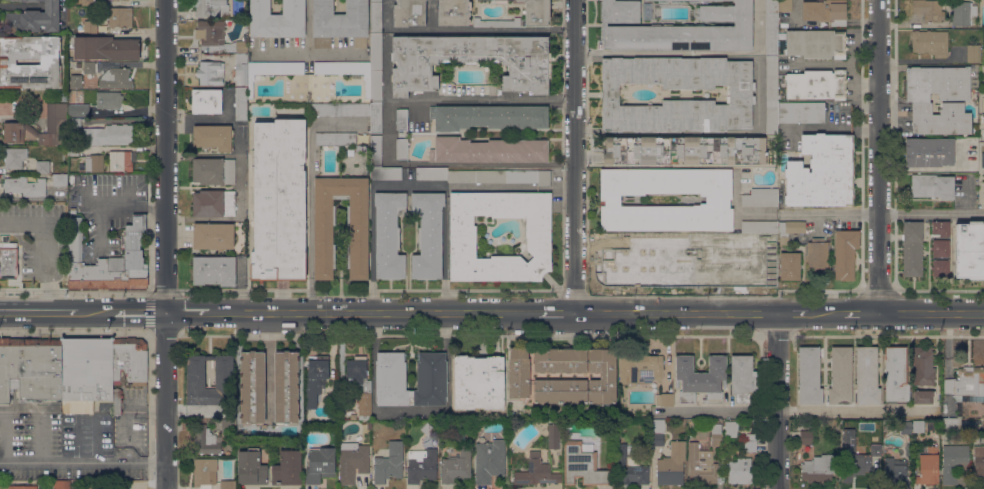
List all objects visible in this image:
building: (27, 0)
building: (501, 1)
building: (663, 1)
building: (675, 1)
building: (694, 1)
building: (87, 3)
building: (785, 5)
building: (211, 8)
building: (929, 10)
building: (647, 11)
building: (825, 11)
building: (454, 12)
building: (537, 12)
building: (409, 13)
building: (962, 13)
building: (119, 16)
building: (35, 18)
building: (277, 19)
building: (339, 22)
building: (497, 22)
building: (90, 27)
building: (771, 27)
road: (466, 29)
building: (678, 29)
building: (218, 37)
building: (930, 42)
building: (816, 43)
road: (857, 45)
building: (107, 48)
building: (376, 50)
building: (973, 53)
road: (306, 54)
road: (337, 54)
road: (658, 54)
building: (470, 61)
building: (30, 62)
road: (840, 64)
building: (79, 65)
building: (89, 66)
building: (241, 69)
building: (346, 70)
building: (271, 71)
building: (211, 72)
building: (116, 79)
building: (75, 81)
building: (817, 84)
building: (492, 89)
building: (739, 92)
building: (772, 94)
building: (109, 99)
building: (939, 99)
building: (207, 101)
building: (241, 103)
building: (2, 106)
building: (340, 109)
building: (78, 110)
building: (801, 112)
building: (375, 117)
building: (488, 117)
road: (837, 117)
building: (402, 119)
building: (55, 123)
road: (815, 128)
building: (14, 132)
road: (391, 132)
building: (108, 135)
building: (213, 137)
building: (336, 139)
building: (361, 147)
building: (402, 148)
building: (73, 150)
building: (376, 150)
building: (488, 150)
building: (684, 151)
building: (929, 152)
road: (202, 155)
road: (573, 155)
road: (878, 155)
building: (15, 157)
building: (122, 160)
building: (94, 163)
building: (42, 166)
building: (214, 171)
road: (239, 172)
building: (822, 172)
building: (385, 173)
building: (431, 173)
building: (500, 176)
building: (60, 179)
road: (407, 182)
building: (25, 186)
building: (932, 186)
building: (761, 197)
building: (279, 200)
building: (718, 201)
road: (114, 203)
building: (214, 203)
road: (884, 213)
building: (760, 226)
building: (941, 229)
building: (790, 230)
building: (463, 231)
building: (323, 234)
building: (389, 235)
building: (428, 235)
building: (214, 236)
road: (166, 244)
building: (912, 248)
building: (940, 248)
road: (44, 249)
building: (969, 250)
building: (818, 254)
building: (845, 254)
building: (624, 256)
building: (687, 256)
building: (747, 256)
building: (8, 260)
building: (108, 260)
building: (596, 260)
building: (790, 266)
building: (940, 268)
building: (214, 270)
road: (860, 311)
road: (930, 311)
road: (140, 312)
road: (186, 312)
road: (372, 312)
road: (555, 312)
road: (675, 312)
road: (793, 312)
road: (827, 312)
road: (57, 313)
building: (130, 361)
building: (923, 366)
building: (30, 368)
building: (641, 368)
building: (86, 373)
building: (896, 373)
building: (562, 375)
building: (867, 375)
building: (809, 376)
building: (841, 376)
building: (315, 378)
building: (700, 378)
building: (391, 379)
building: (431, 379)
building: (743, 379)
building: (227, 381)
building: (479, 382)
building: (966, 382)
building: (360, 383)
building: (252, 388)
building: (286, 388)
building: (923, 396)
building: (667, 399)
road: (777, 400)
building: (118, 402)
road: (130, 407)
road: (409, 410)
road: (793, 410)
road: (133, 414)
building: (354, 416)
road: (42, 417)
road: (86, 424)
building: (958, 424)
building: (228, 425)
building: (918, 426)
building: (906, 427)
building: (731, 428)
building: (428, 429)
building: (657, 431)
road: (4, 433)
building: (369, 433)
building: (717, 434)
building: (691, 435)
building: (554, 436)
road: (8, 437)
building: (806, 437)
building: (207, 440)
building: (750, 442)
building: (490, 460)
building: (353, 461)
building: (954, 461)
road: (82, 462)
building: (389, 463)
building: (320, 464)
building: (860, 464)
building: (422, 465)
building: (584, 465)
building: (631, 465)
building: (672, 465)
building: (978, 465)
building: (702, 466)
building: (928, 466)
building: (251, 467)
building: (288, 468)
building: (819, 468)
building: (455, 469)
building: (205, 471)
building: (536, 471)
building: (741, 471)
building: (896, 471)
building: (62, 484)
building: (228, 484)
building: (22, 487)

